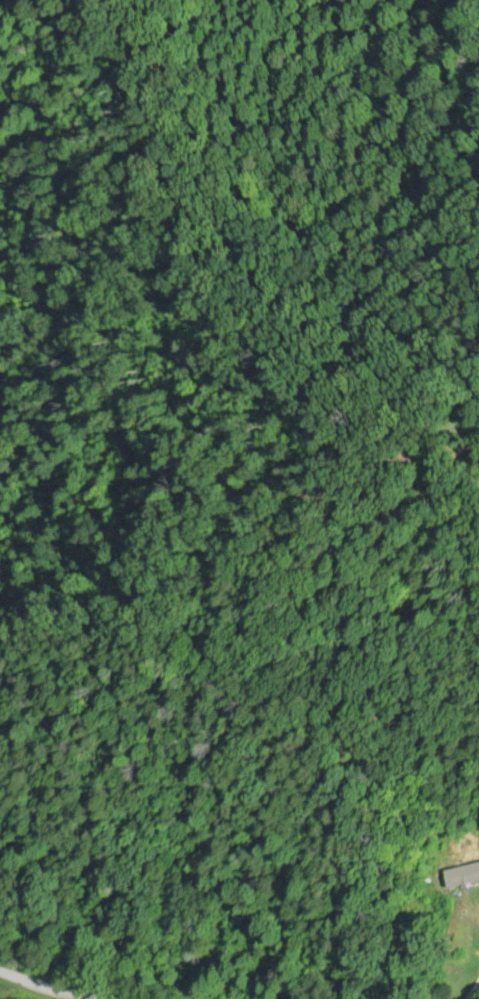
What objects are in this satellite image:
road: (219, 716)
building: (461, 869)
road: (32, 984)

